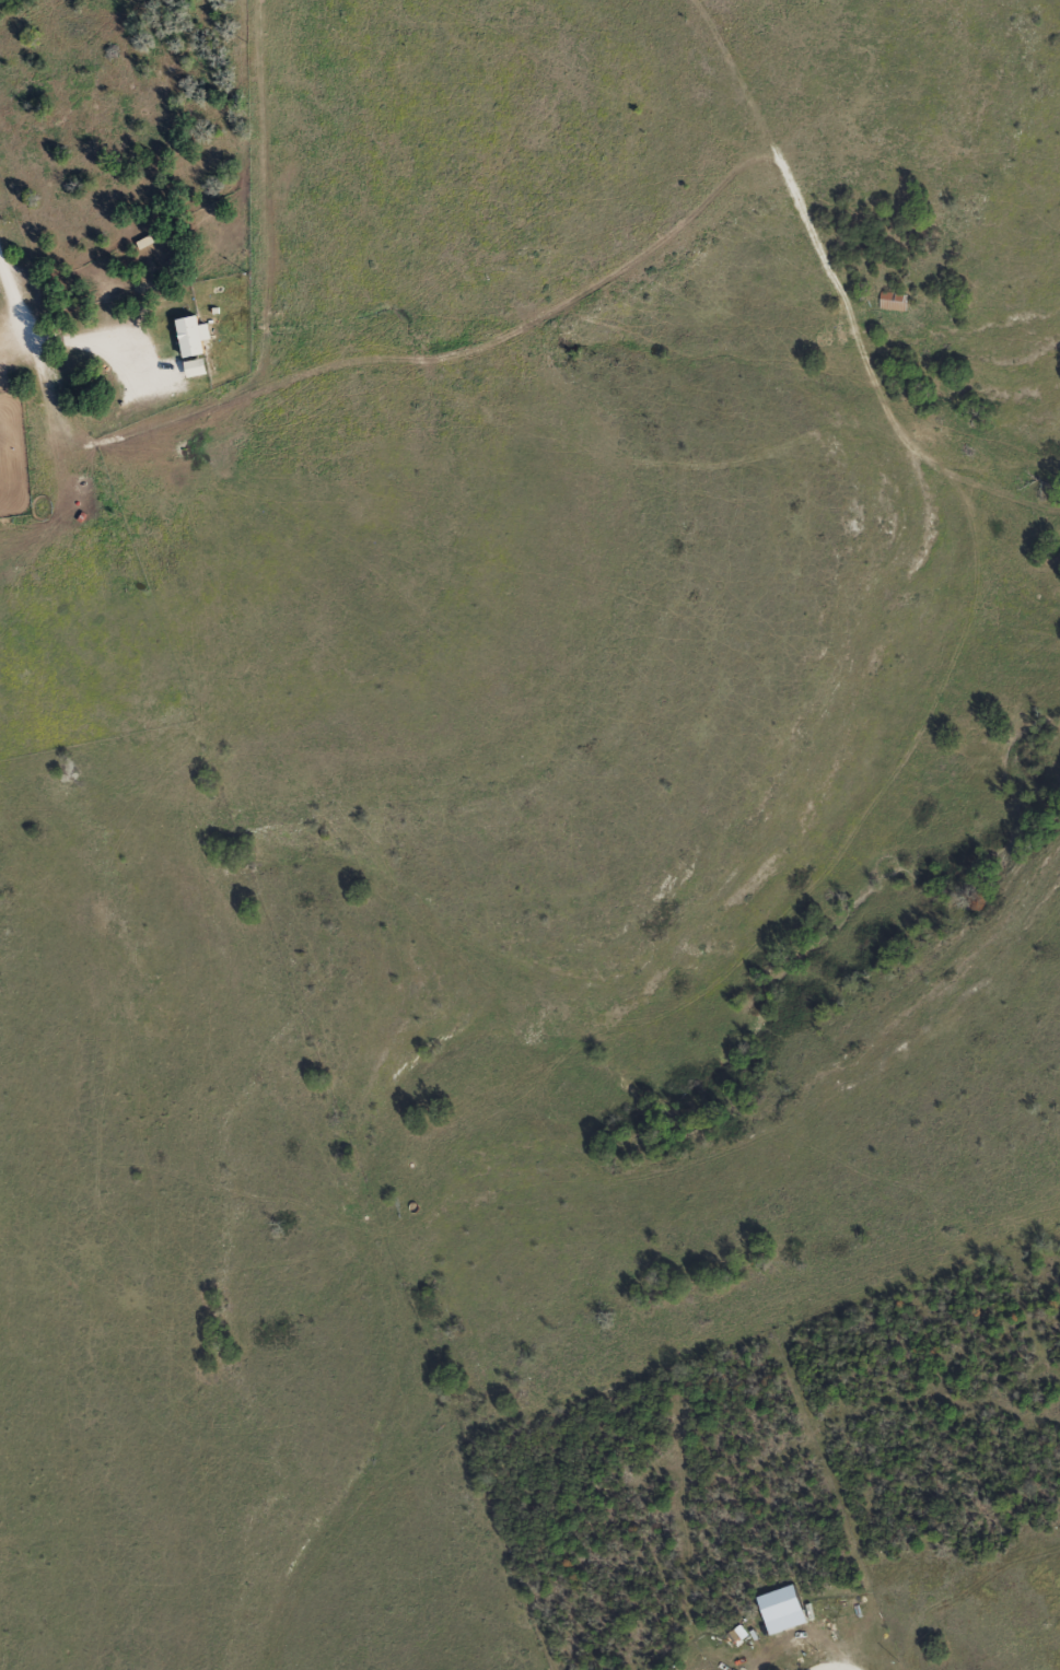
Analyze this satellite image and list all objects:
building: (888, 301)

